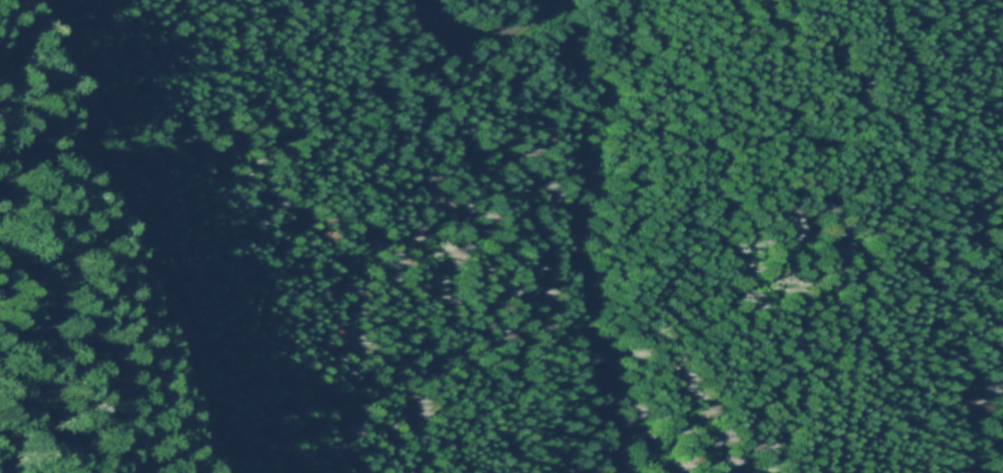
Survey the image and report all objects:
road: (481, 34)
road: (871, 217)
road: (141, 249)

